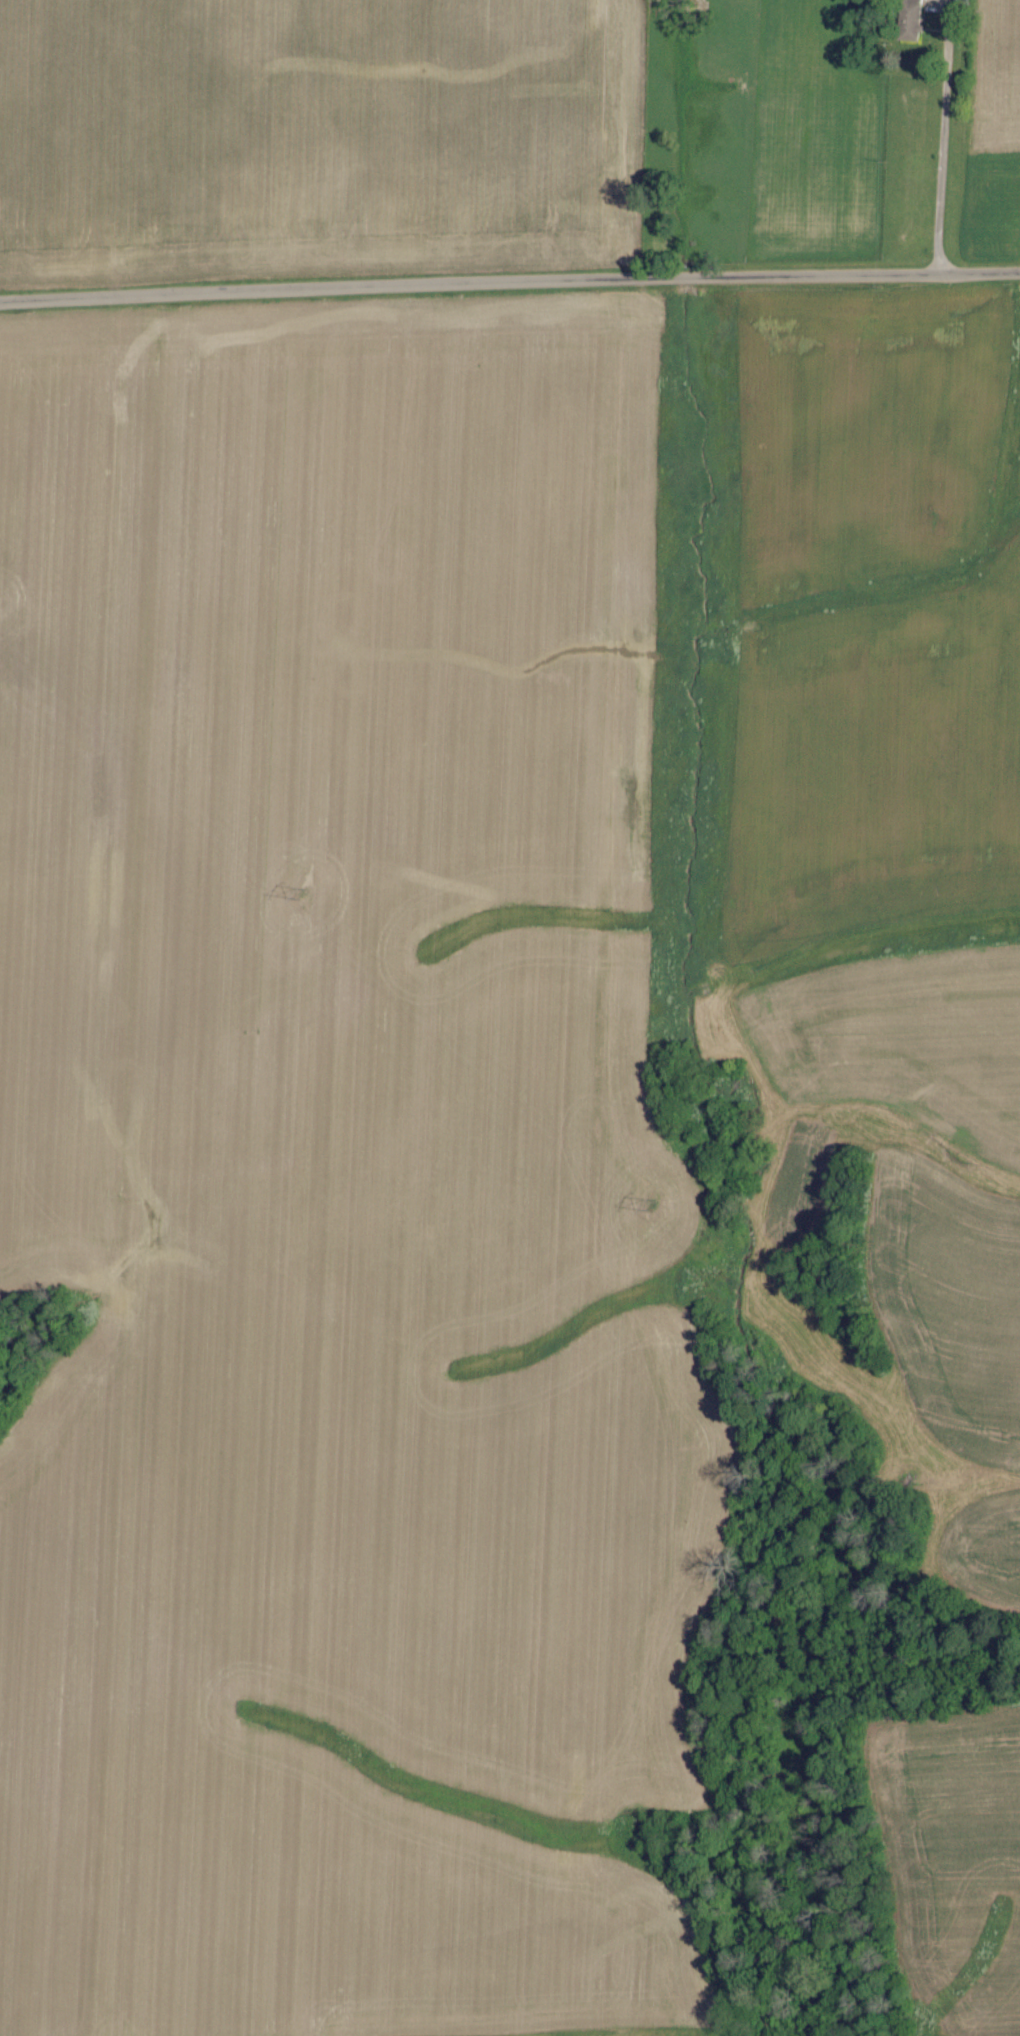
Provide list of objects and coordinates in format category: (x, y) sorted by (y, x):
road: (942, 138)
road: (509, 288)

